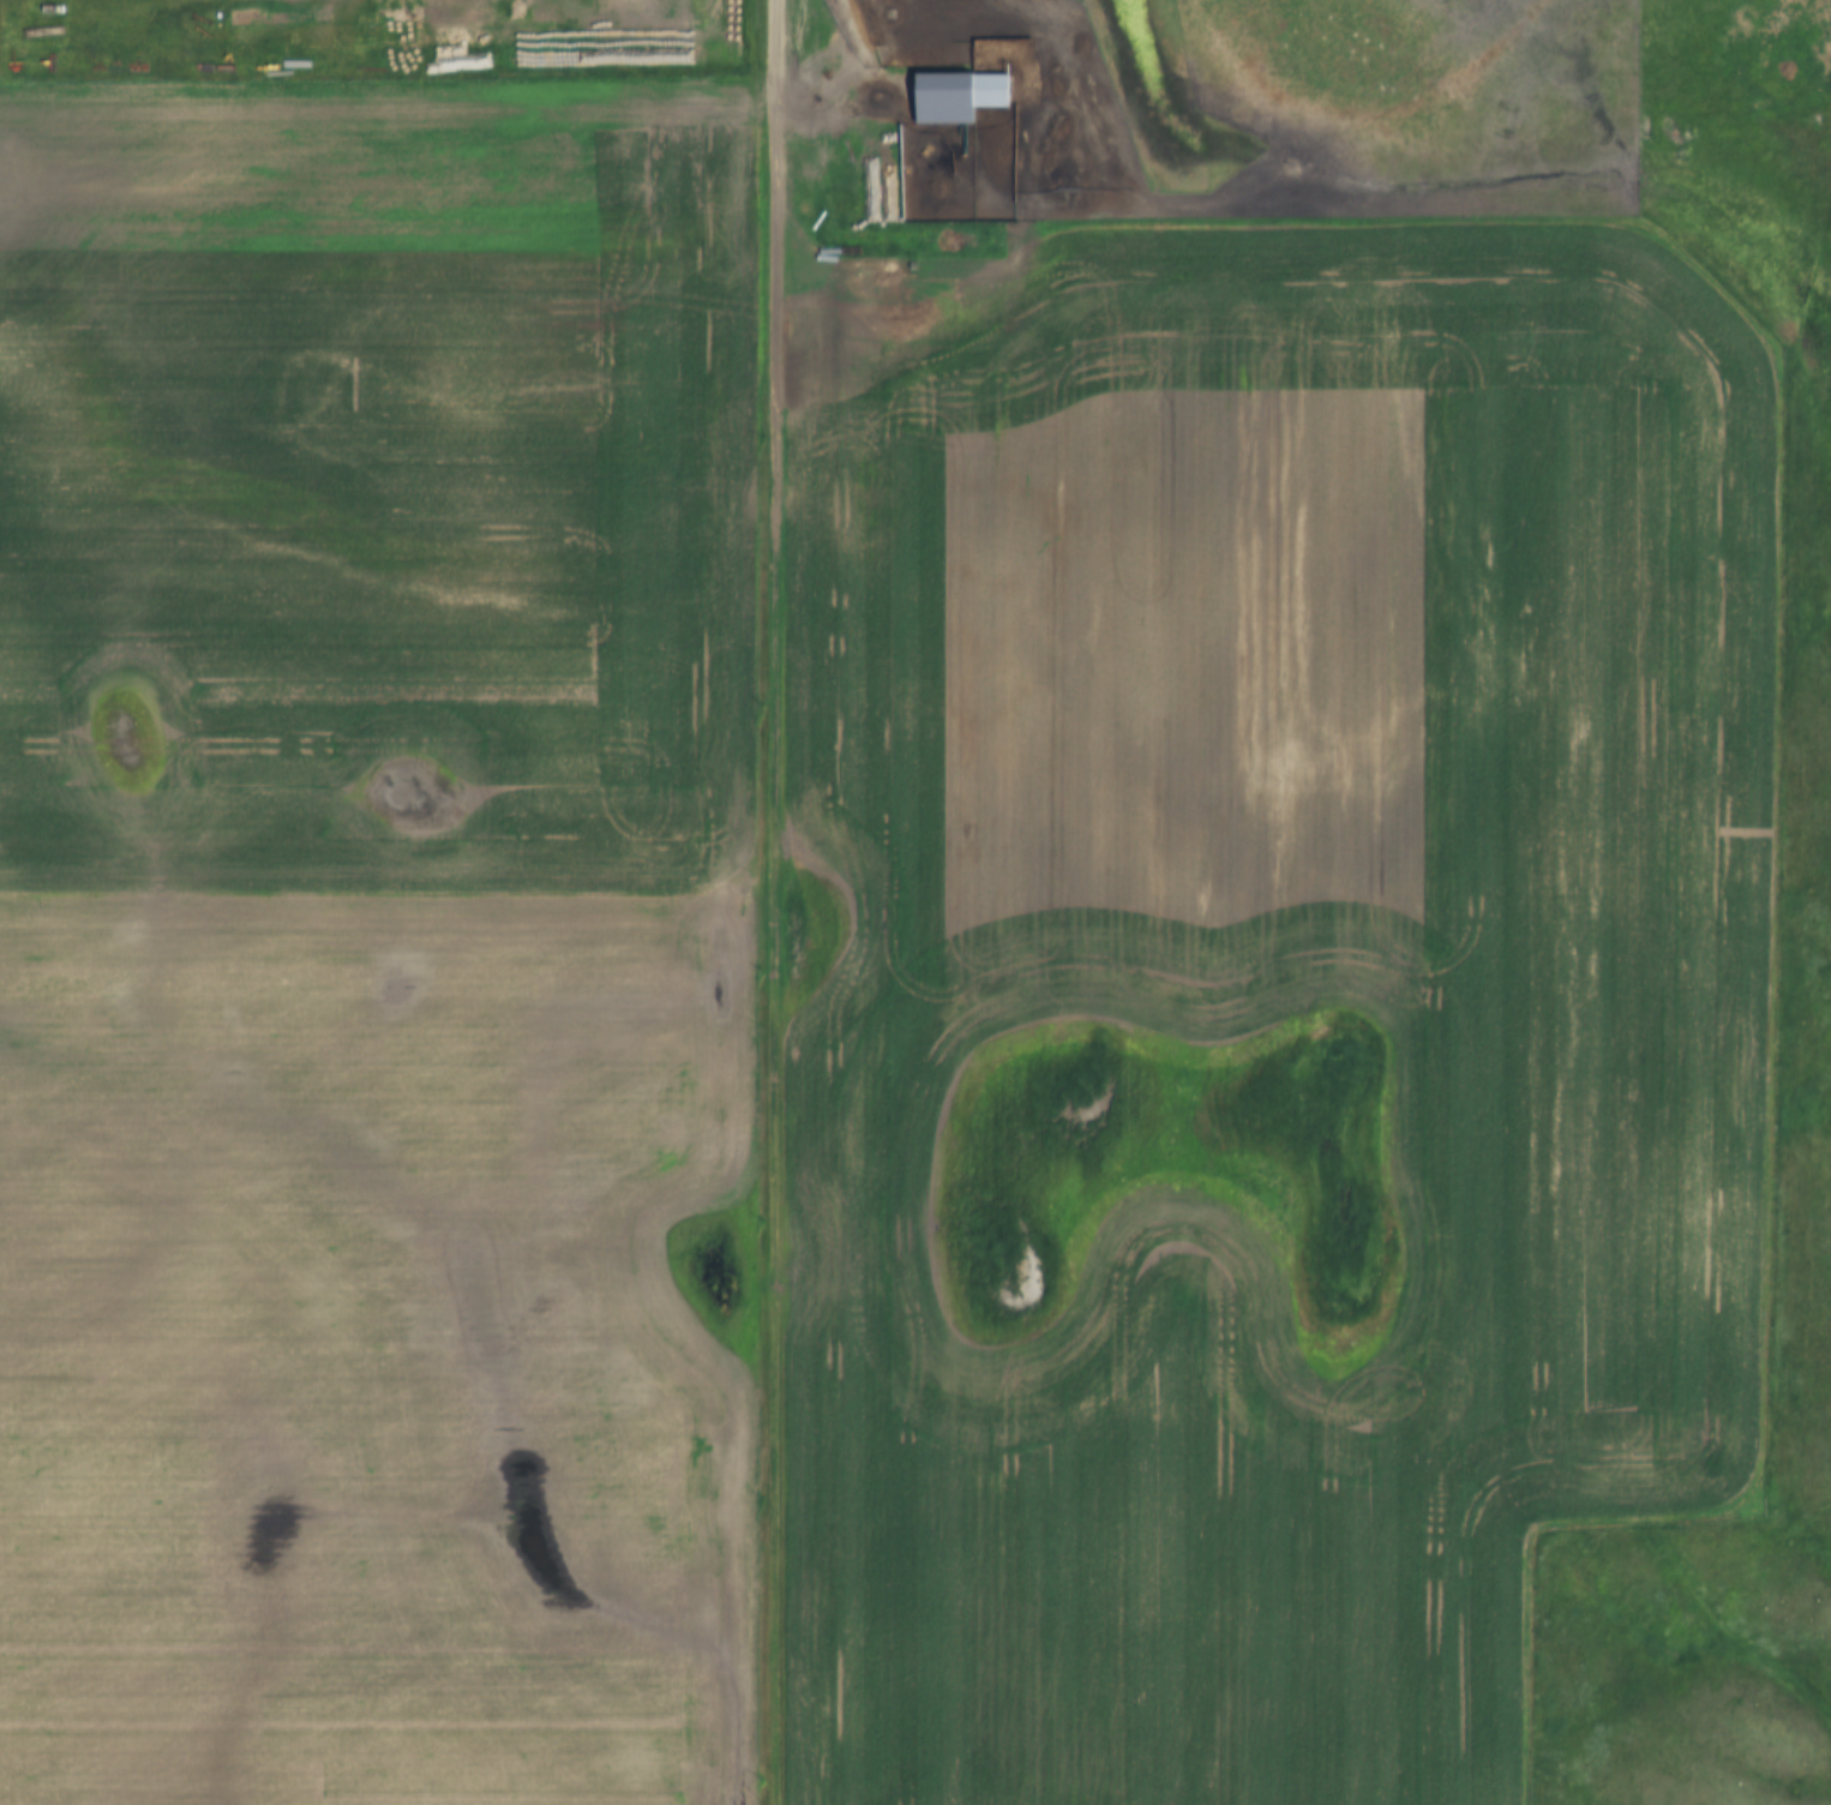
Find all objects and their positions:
building: (992, 91)
road: (778, 901)

